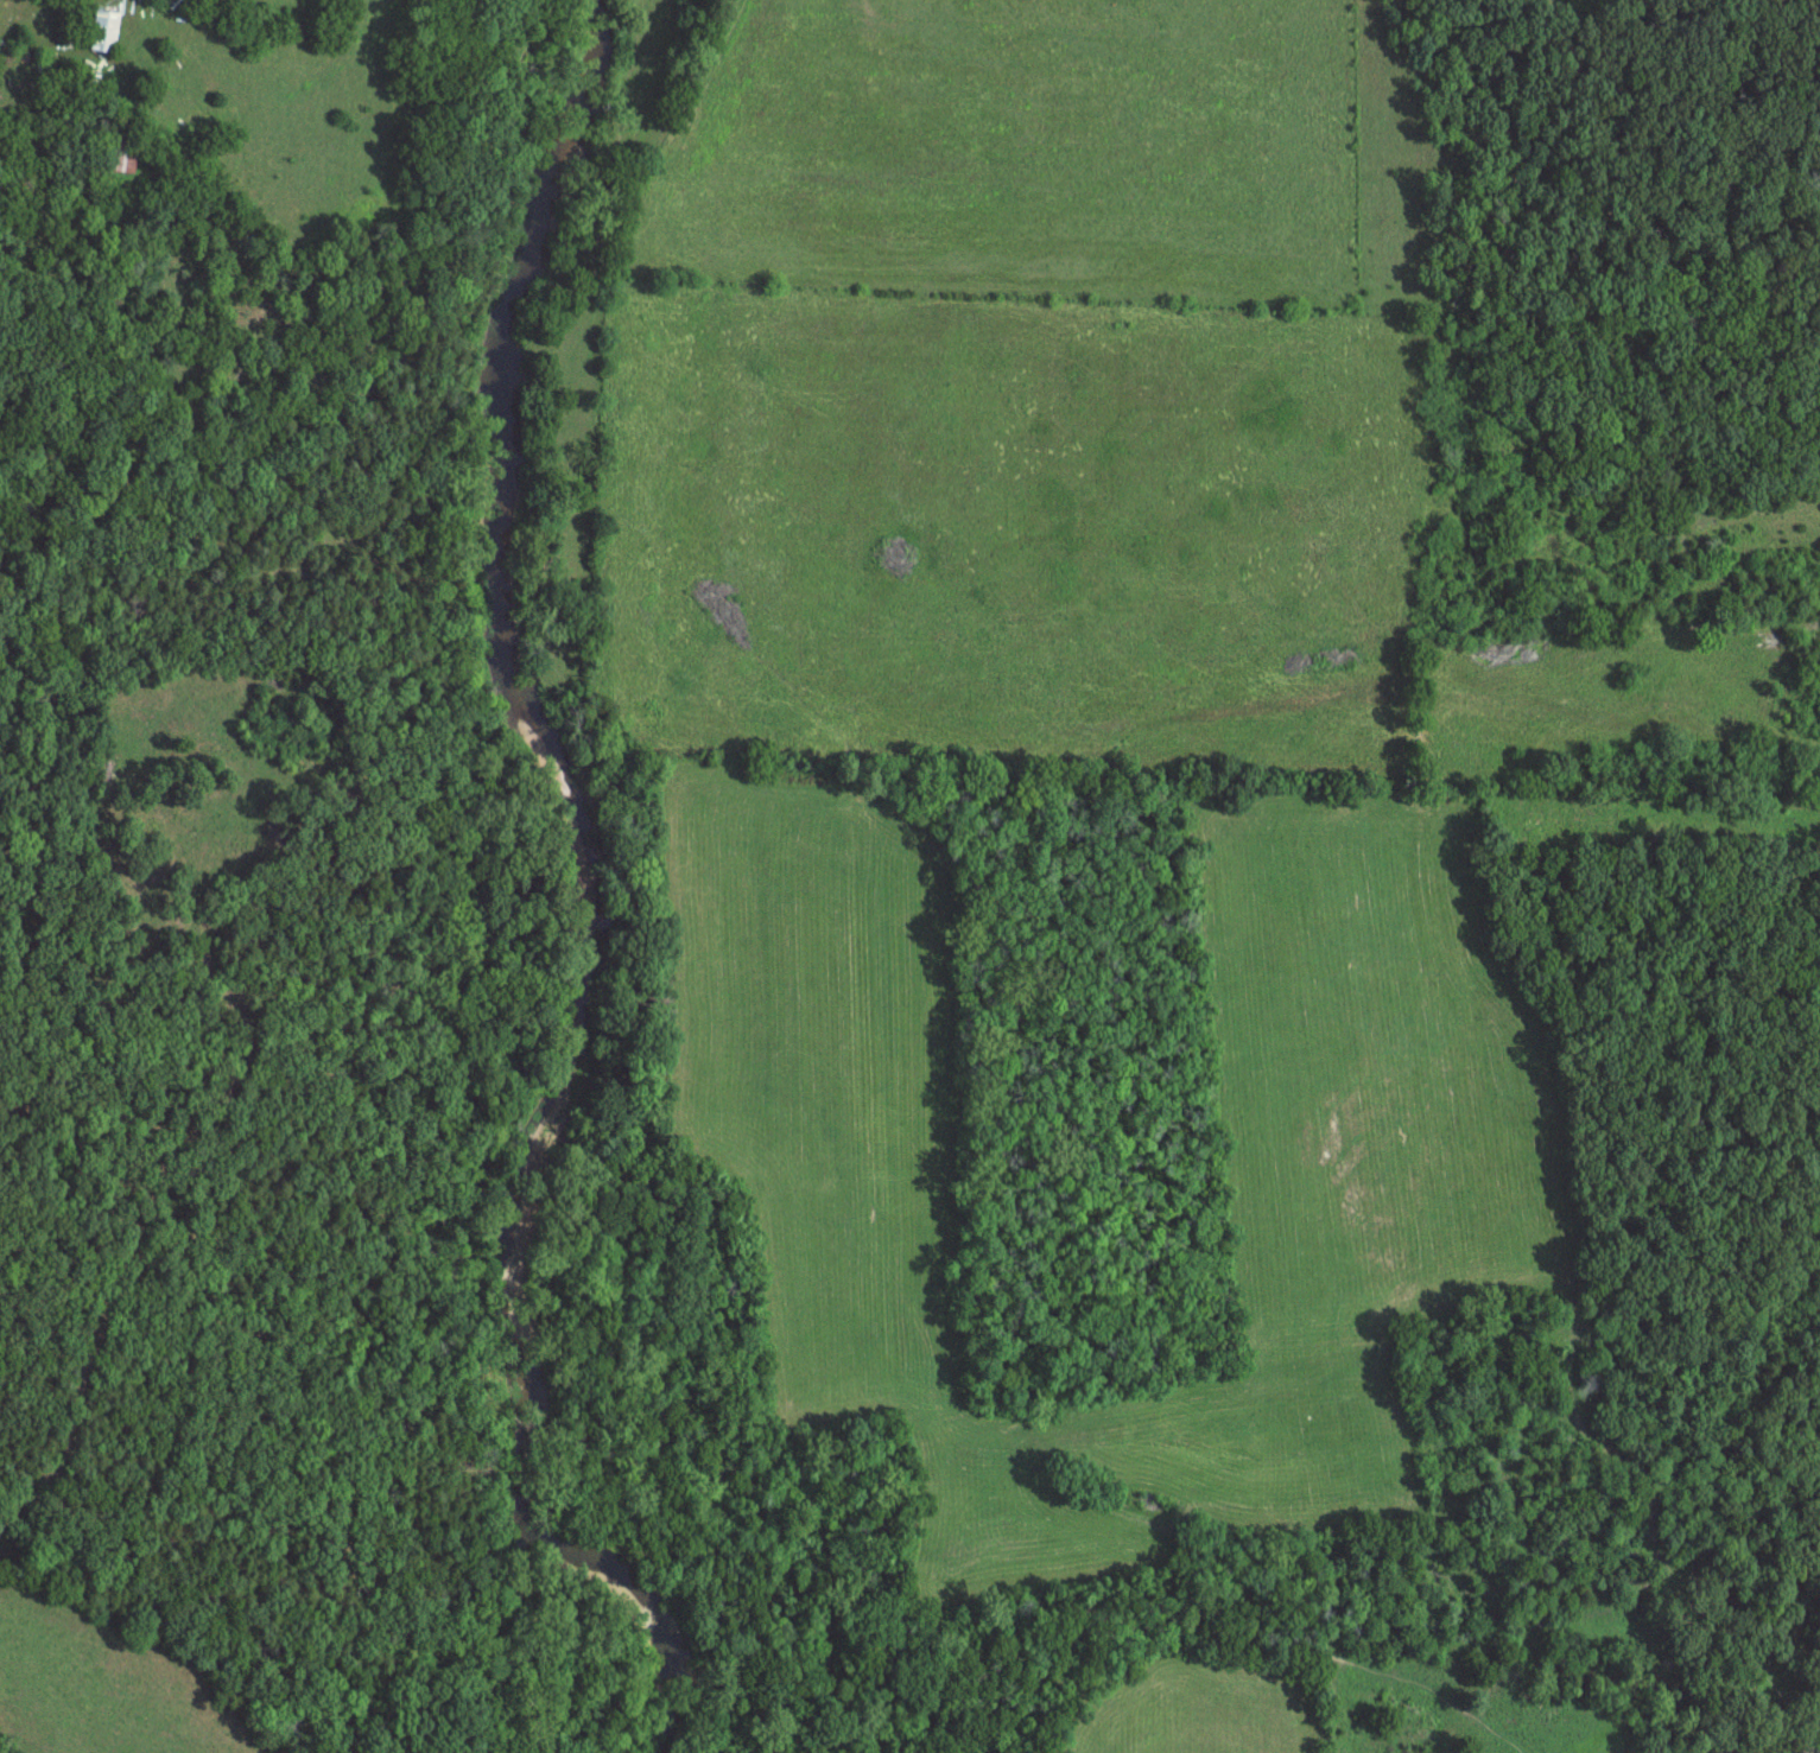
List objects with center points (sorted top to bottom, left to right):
road: (355, 178)

